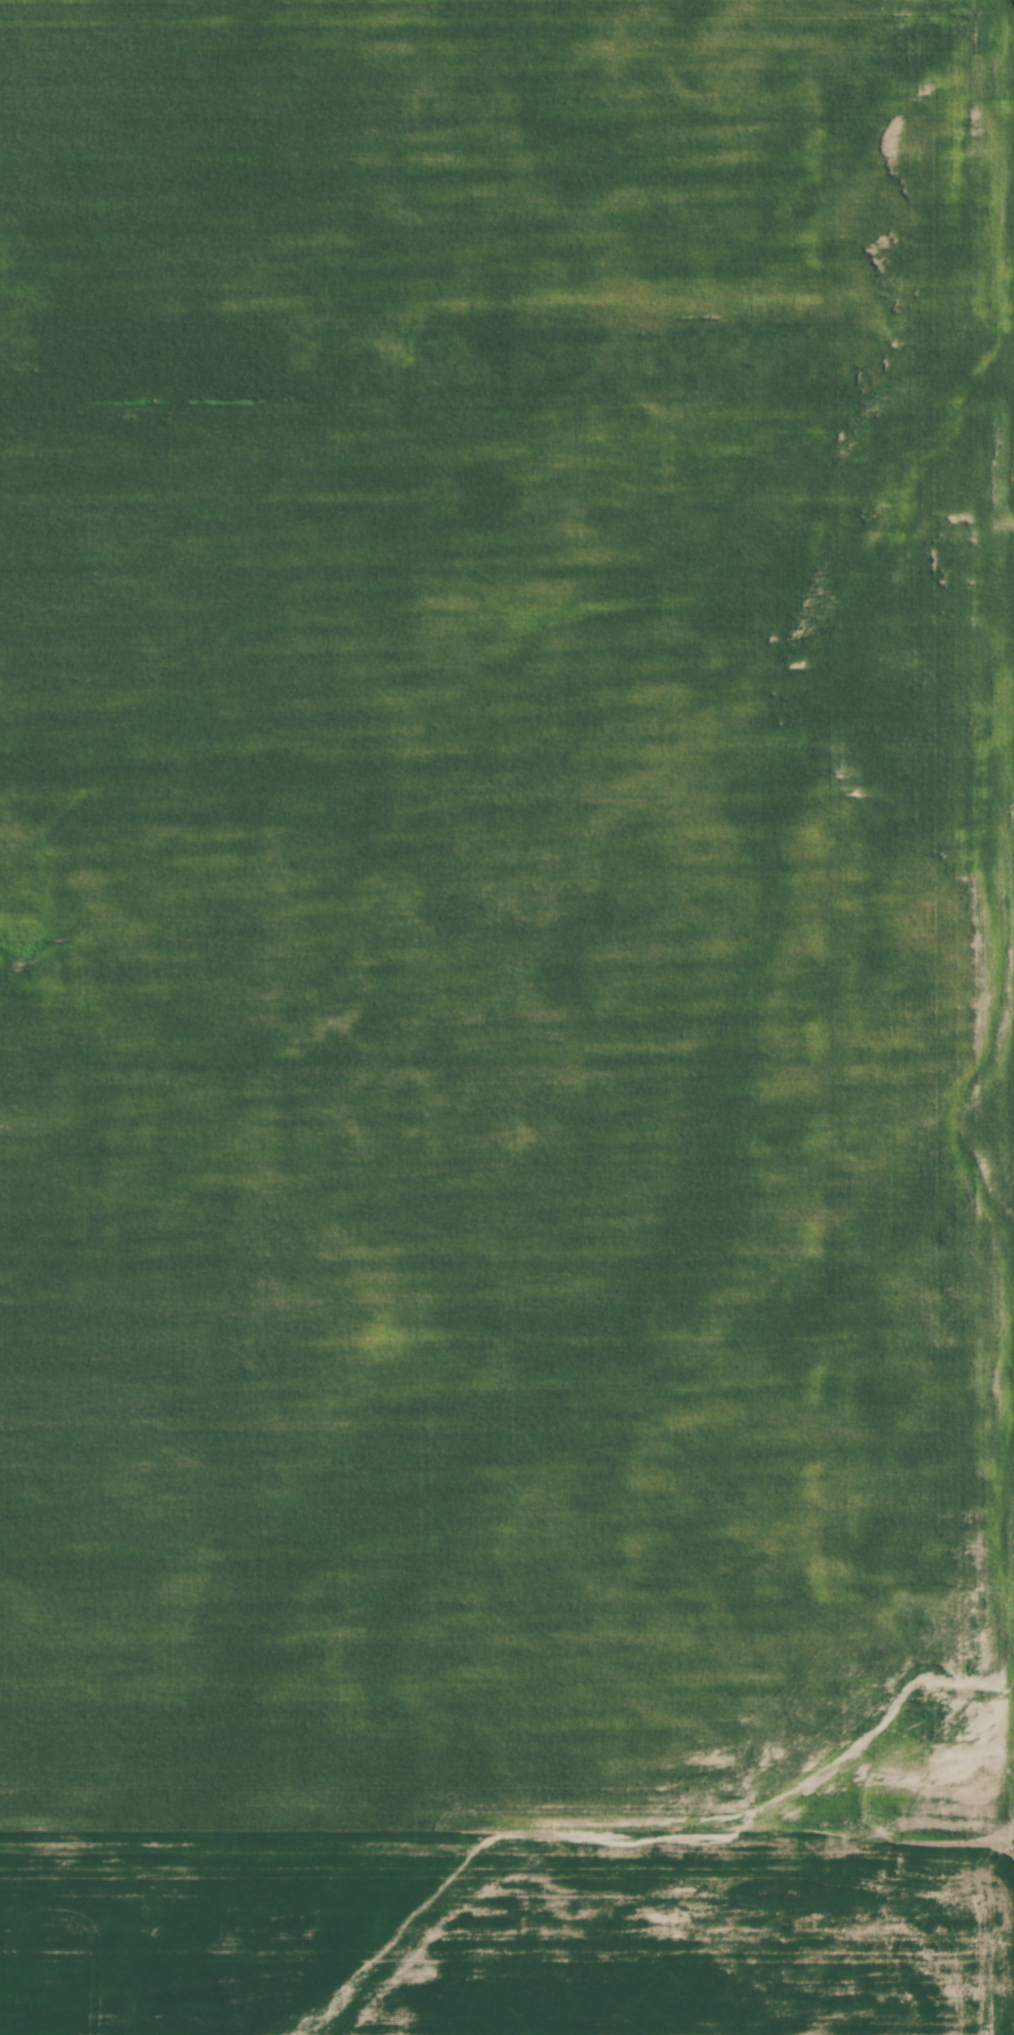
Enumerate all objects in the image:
road: (507, 1829)

